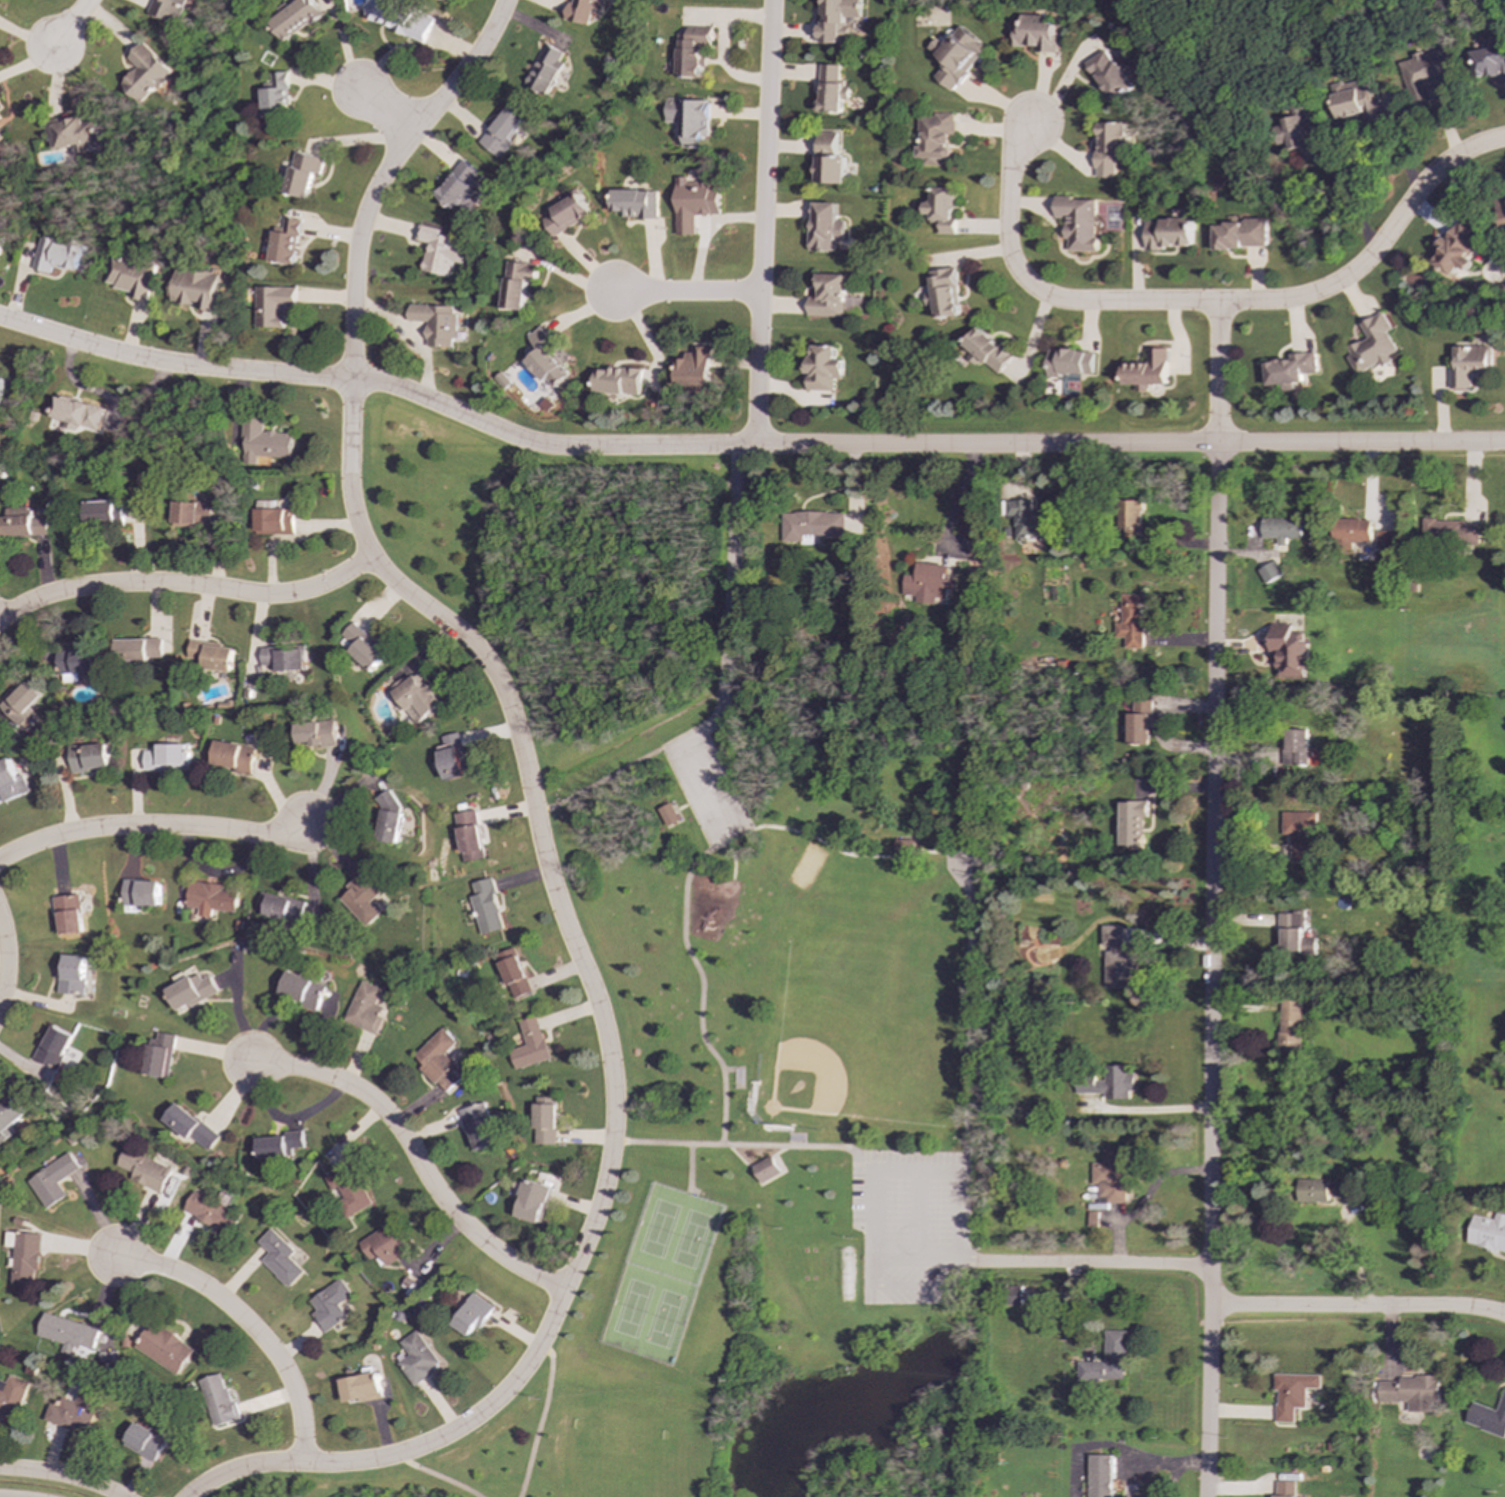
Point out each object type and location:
building: (439, 0)
building: (167, 9)
building: (582, 10)
building: (294, 18)
building: (835, 18)
building: (398, 19)
road: (69, 24)
building: (1033, 33)
building: (691, 52)
building: (955, 55)
building: (1490, 59)
building: (545, 69)
building: (145, 73)
building: (1109, 74)
building: (1426, 74)
building: (830, 89)
building: (276, 94)
building: (1359, 99)
building: (1, 109)
road: (388, 113)
building: (689, 119)
building: (503, 129)
building: (1299, 131)
building: (74, 134)
building: (1, 136)
building: (934, 137)
building: (1109, 147)
building: (829, 158)
building: (302, 173)
building: (459, 185)
road: (1350, 198)
building: (694, 202)
building: (635, 203)
building: (942, 209)
building: (1503, 213)
building: (566, 215)
building: (1078, 222)
road: (762, 223)
building: (825, 227)
building: (1169, 233)
building: (1240, 234)
building: (1, 239)
building: (286, 241)
building: (1456, 248)
building: (438, 250)
building: (58, 255)
building: (132, 275)
building: (517, 283)
building: (195, 287)
road: (685, 293)
building: (945, 293)
building: (828, 296)
road: (1212, 302)
building: (273, 305)
building: (436, 323)
building: (1372, 345)
building: (988, 350)
building: (546, 359)
building: (1071, 361)
building: (1467, 364)
building: (823, 367)
building: (1149, 369)
building: (693, 370)
building: (1290, 370)
building: (1, 381)
road: (372, 381)
building: (617, 381)
building: (74, 415)
road: (350, 417)
road: (1129, 444)
road: (746, 447)
road: (956, 497)
building: (100, 513)
building: (192, 514)
building: (274, 521)
building: (965, 523)
building: (811, 524)
building: (1129, 524)
building: (24, 525)
building: (1281, 529)
building: (1352, 531)
building: (1450, 532)
building: (1386, 539)
building: (1269, 571)
building: (926, 583)
road: (186, 585)
road: (733, 604)
building: (1129, 621)
building: (363, 647)
building: (139, 649)
building: (1288, 651)
building: (212, 655)
building: (284, 657)
building: (77, 663)
building: (417, 697)
building: (21, 702)
building: (1137, 722)
building: (316, 733)
building: (1296, 748)
building: (236, 756)
building: (452, 756)
building: (89, 757)
building: (168, 757)
road: (608, 775)
building: (10, 782)
road: (707, 789)
building: (667, 814)
building: (390, 820)
building: (1131, 823)
road: (150, 827)
building: (1299, 832)
building: (469, 835)
building: (904, 847)
road: (687, 870)
building: (141, 893)
building: (363, 897)
building: (211, 898)
road: (1212, 899)
building: (485, 907)
building: (282, 908)
building: (68, 914)
building: (1294, 936)
building: (1117, 957)
road: (5, 961)
building: (513, 972)
building: (71, 974)
building: (302, 989)
building: (191, 991)
park: (724, 994)
building: (366, 1008)
road: (967, 1012)
building: (1288, 1026)
building: (529, 1044)
building: (53, 1047)
building: (160, 1055)
building: (438, 1060)
building: (1109, 1082)
road: (1151, 1110)
building: (9, 1116)
road: (284, 1119)
building: (545, 1124)
building: (191, 1126)
building: (479, 1126)
building: (280, 1144)
road: (747, 1144)
road: (415, 1158)
building: (145, 1169)
building: (765, 1169)
road: (919, 1170)
building: (1111, 1176)
building: (53, 1180)
building: (347, 1188)
building: (1320, 1190)
building: (534, 1201)
building: (211, 1212)
road: (920, 1216)
building: (1486, 1232)
building: (385, 1245)
building: (24, 1256)
building: (280, 1257)
road: (924, 1262)
road: (1092, 1264)
road: (873, 1273)
road: (571, 1275)
road: (923, 1285)
building: (1010, 1295)
building: (331, 1304)
road: (1356, 1308)
building: (473, 1314)
road: (251, 1329)
building: (68, 1333)
building: (164, 1348)
building: (417, 1357)
building: (1106, 1360)
building: (361, 1387)
building: (1411, 1392)
building: (1290, 1393)
building: (12, 1397)
building: (218, 1401)
building: (74, 1409)
building: (1487, 1417)
road: (541, 1420)
building: (143, 1441)
building: (1100, 1475)
road: (436, 1476)
road: (60, 1477)
building: (1283, 1489)

